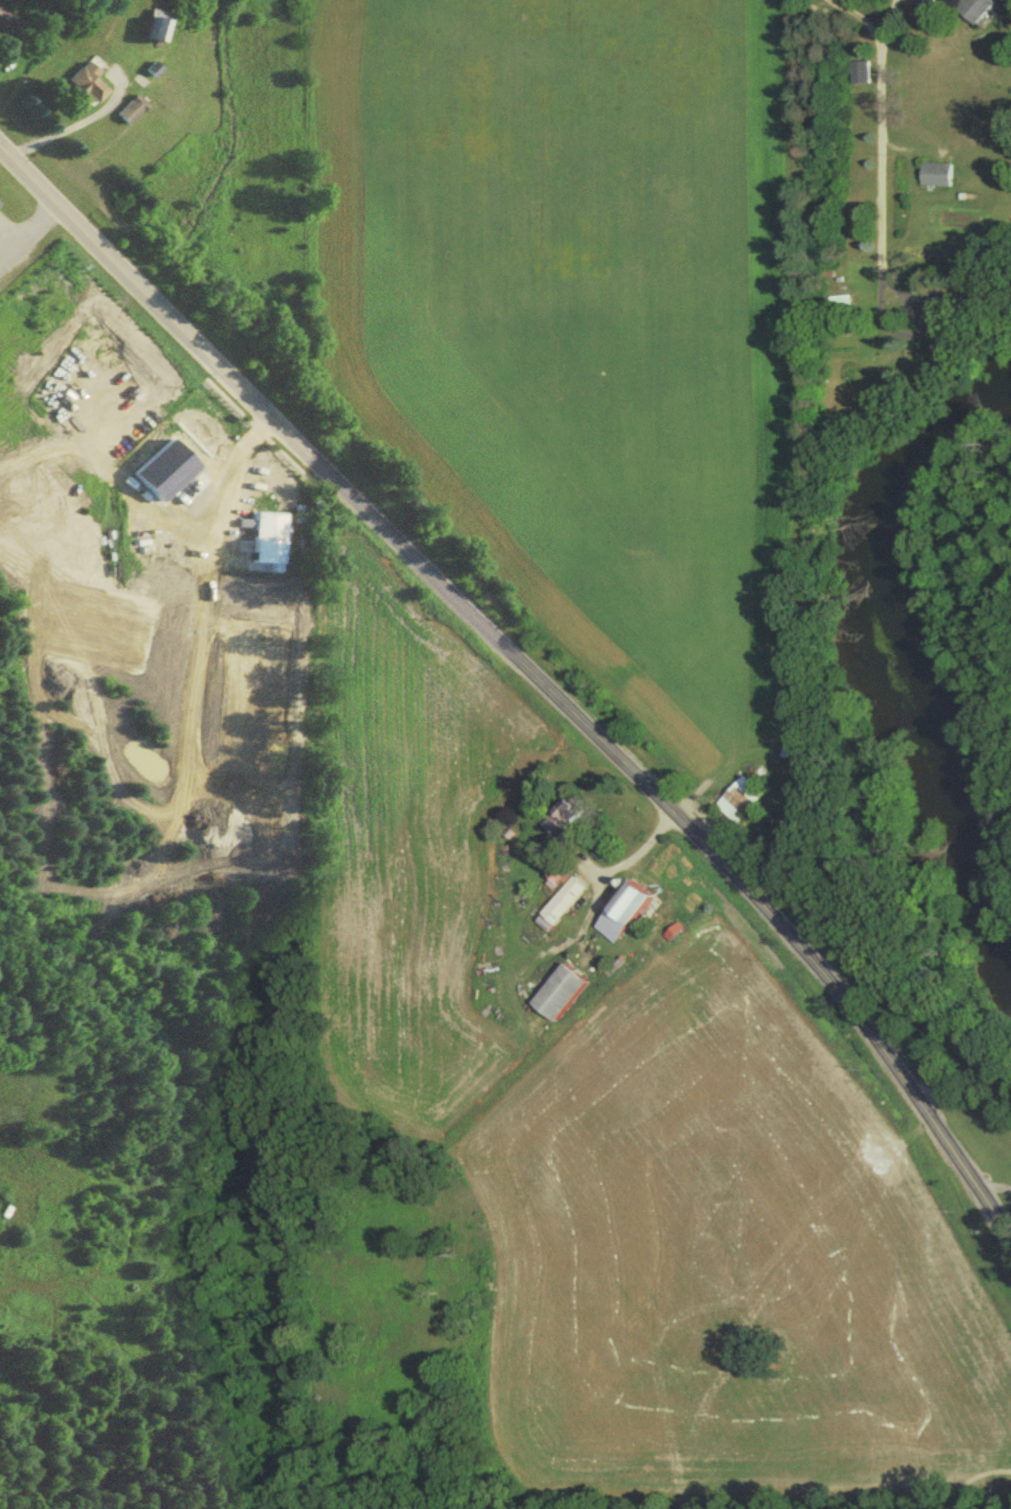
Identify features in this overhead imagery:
building: (925, 5)
building: (975, 11)
road: (850, 18)
building: (3, 24)
building: (148, 30)
building: (82, 88)
building: (126, 113)
road: (69, 125)
road: (879, 127)
building: (936, 179)
building: (841, 306)
road: (181, 328)
road: (156, 485)
building: (263, 531)
river: (893, 658)
building: (740, 803)
building: (559, 823)
road: (712, 855)
road: (634, 856)
building: (559, 908)
building: (621, 915)
building: (556, 998)
building: (599, 1017)
road: (961, 1081)
road: (991, 1183)

